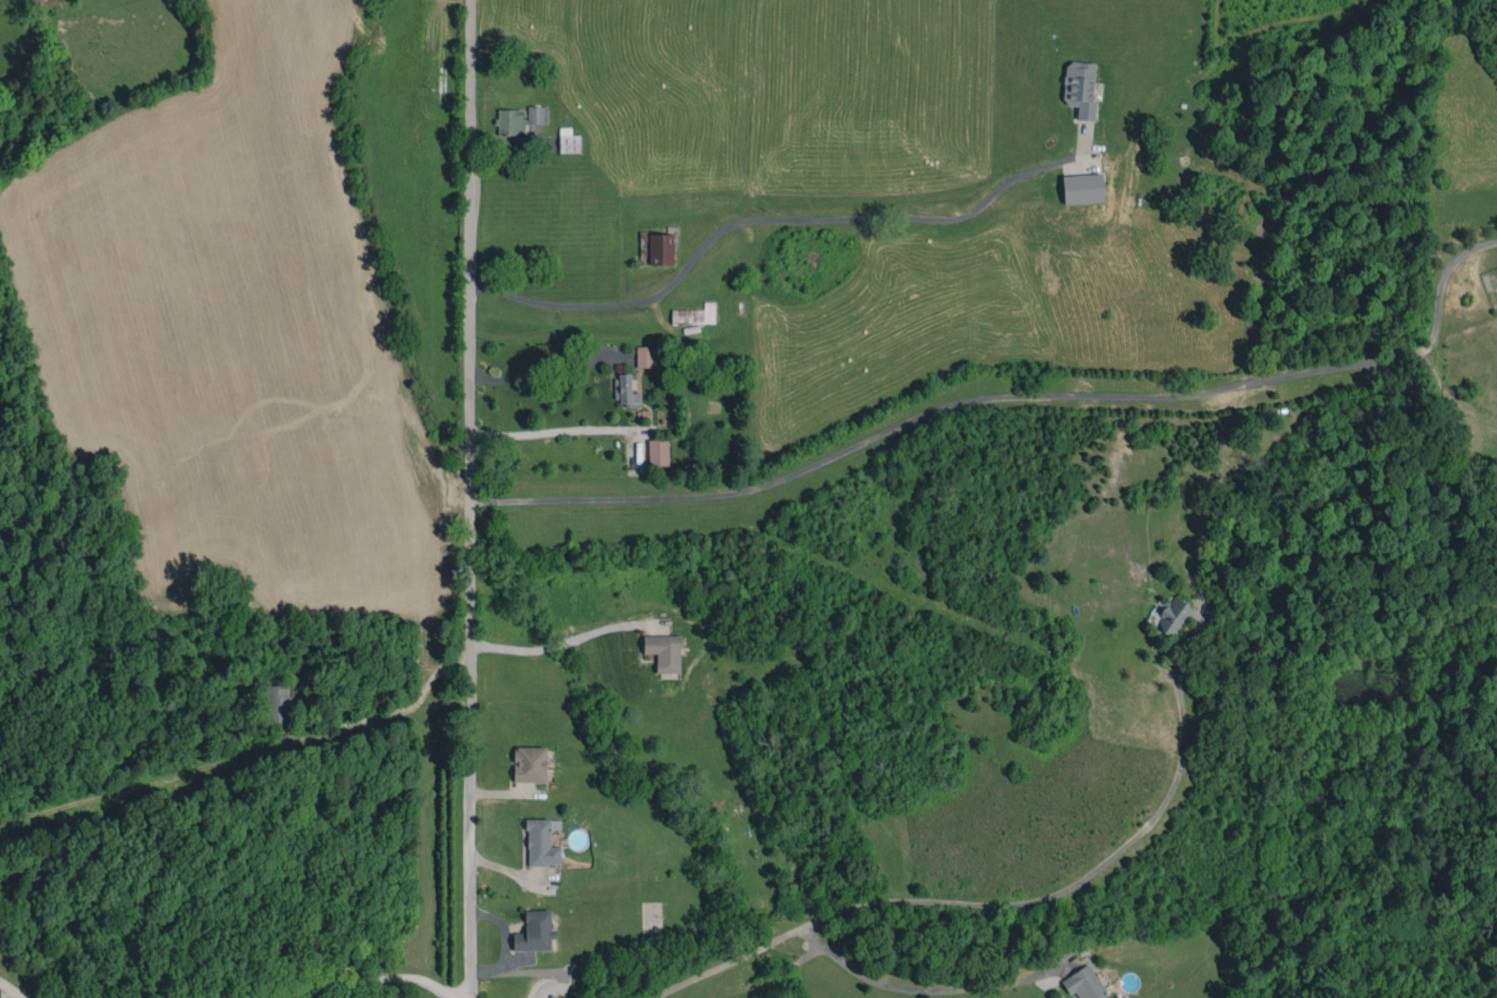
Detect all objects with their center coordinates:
building: (1080, 88)
building: (537, 114)
building: (511, 122)
building: (569, 140)
building: (1083, 188)
road: (783, 218)
building: (661, 249)
building: (695, 314)
building: (645, 356)
road: (546, 365)
building: (625, 390)
road: (1012, 396)
road: (553, 431)
building: (658, 452)
road: (470, 499)
building: (1169, 616)
road: (549, 646)
building: (664, 651)
building: (278, 703)
road: (390, 708)
building: (529, 764)
building: (542, 842)
road: (1056, 895)
building: (535, 931)
road: (726, 961)
road: (352, 981)
building: (1084, 984)
road: (914, 989)
building: (0, 992)
building: (552, 996)

